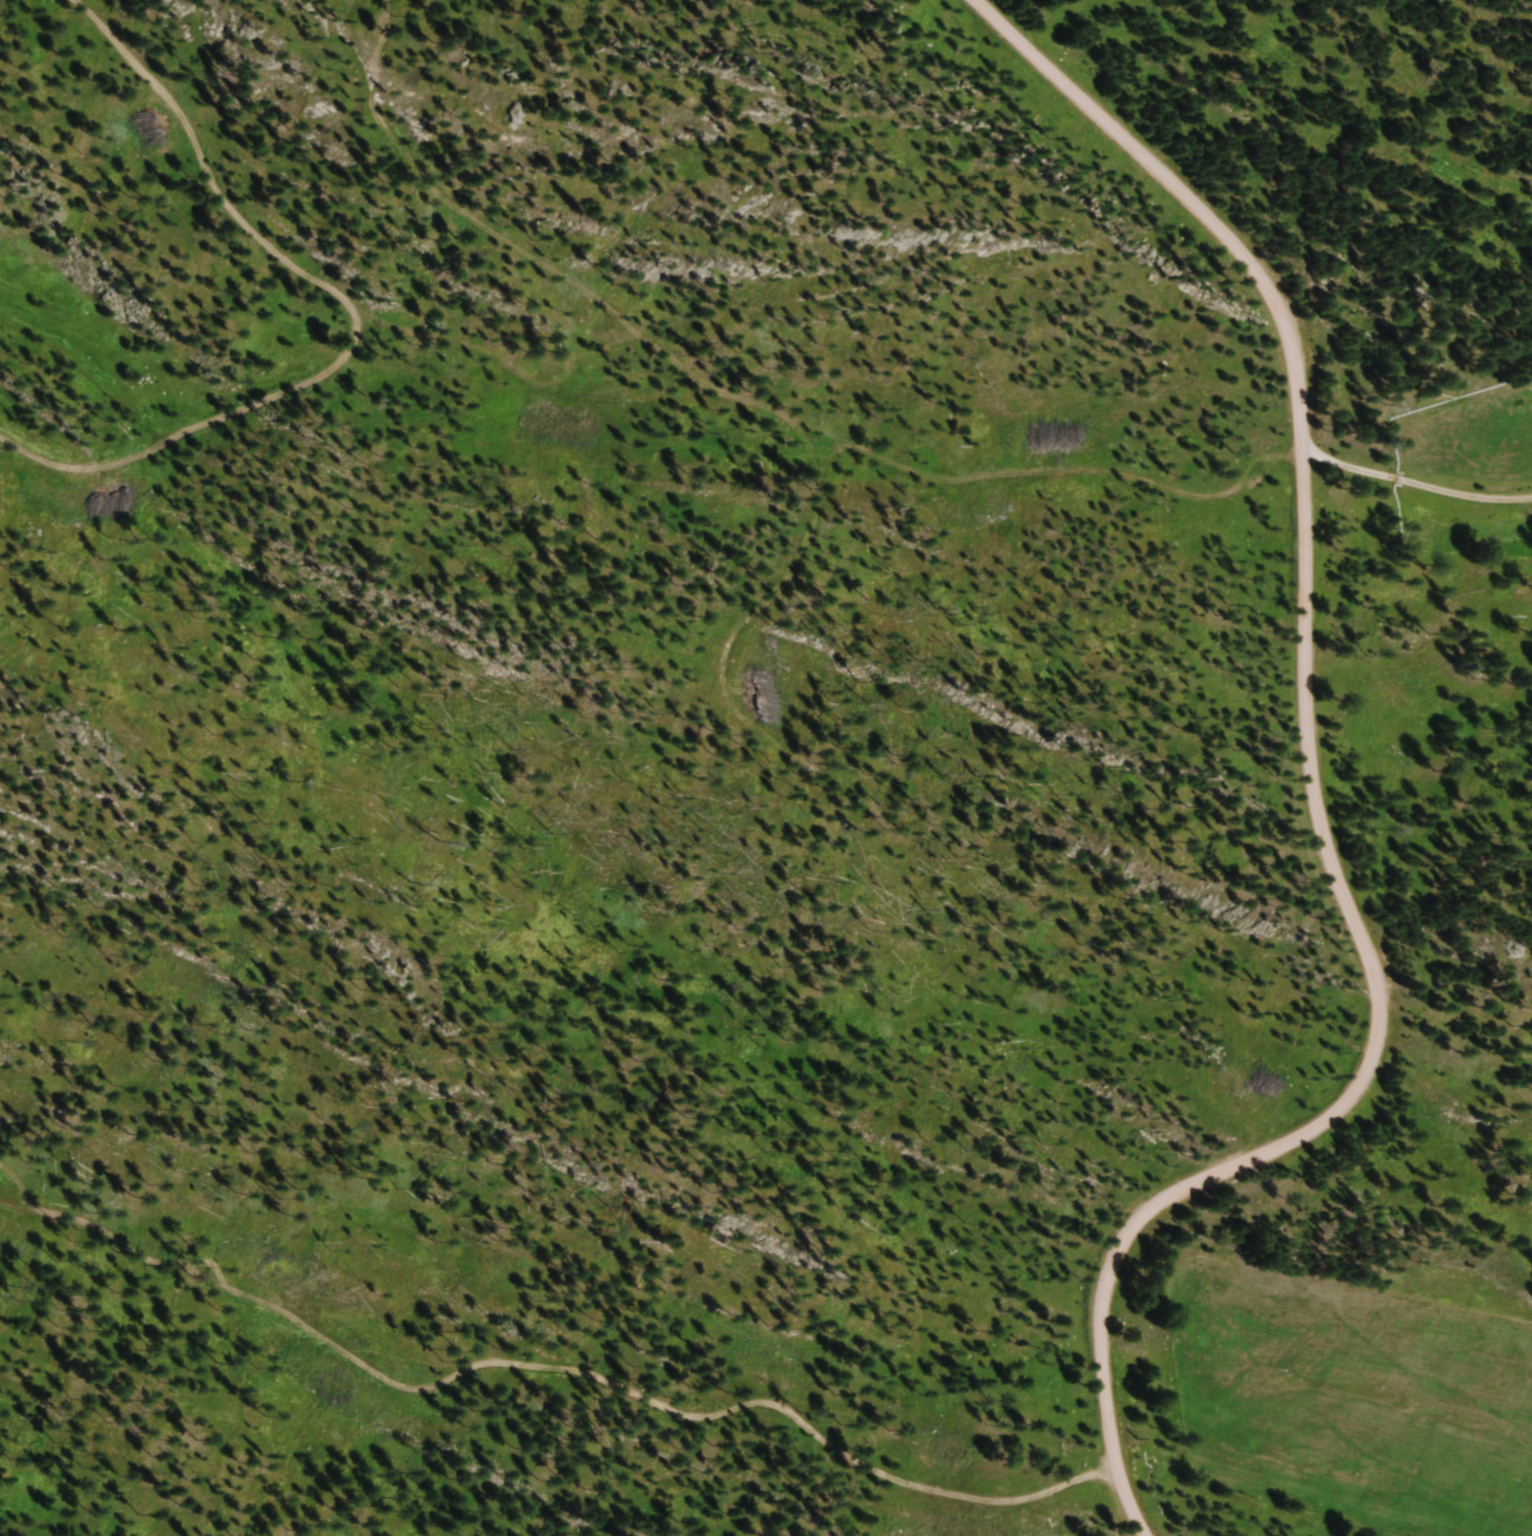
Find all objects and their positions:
road: (1309, 783)

